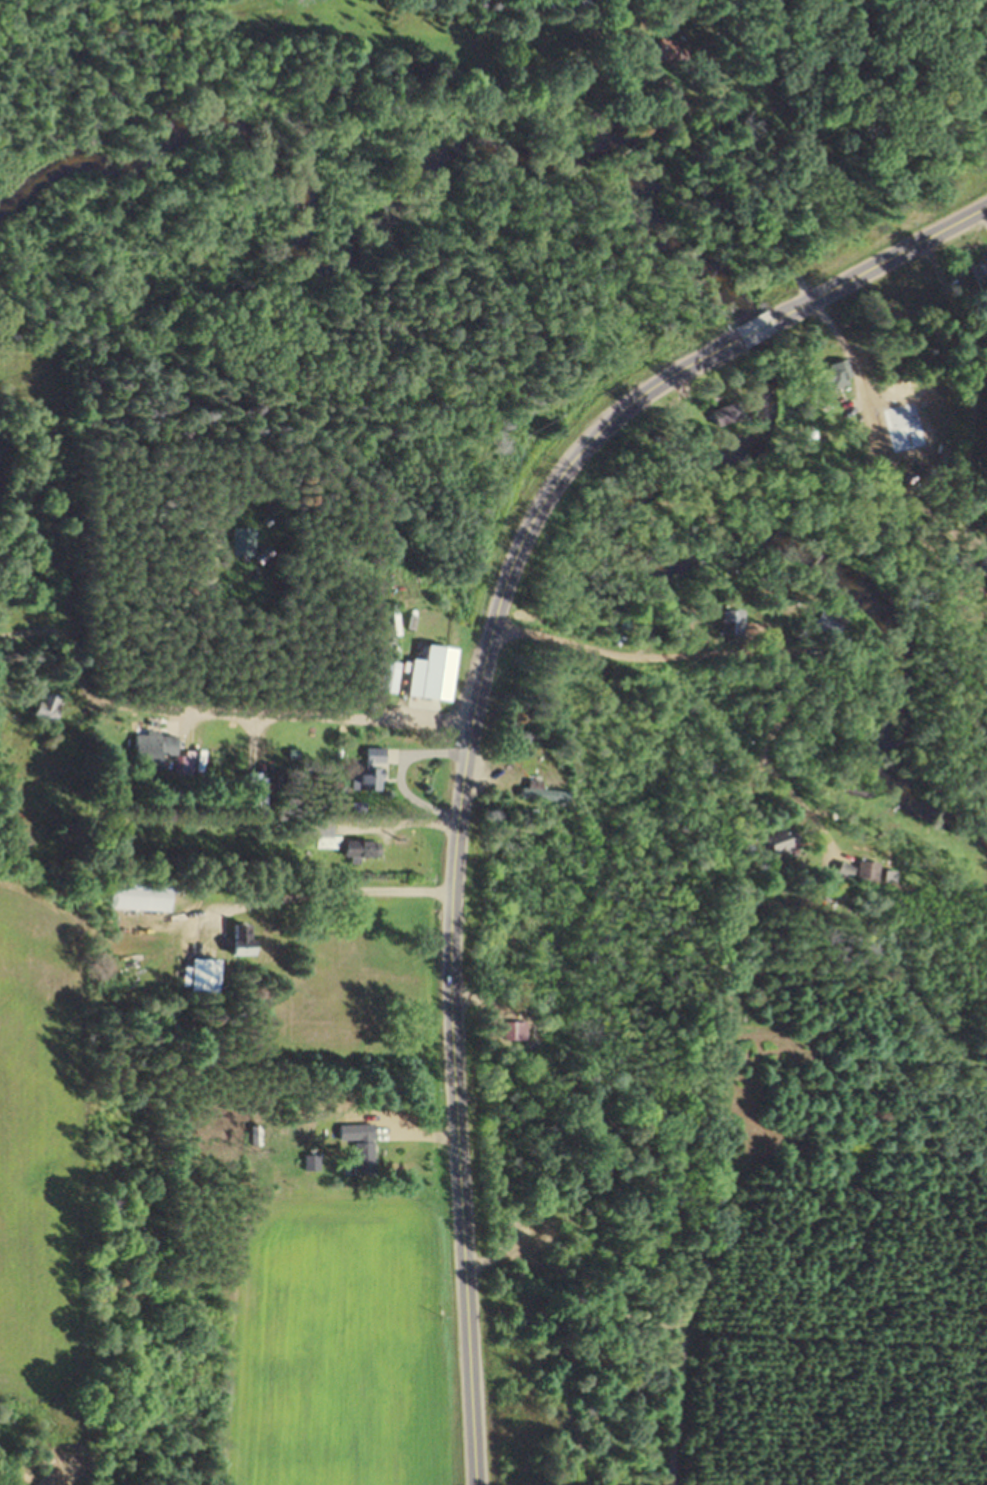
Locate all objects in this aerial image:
building: (662, 50)
river: (381, 144)
road: (878, 263)
road: (753, 330)
building: (839, 375)
river: (789, 386)
building: (237, 541)
building: (826, 621)
building: (731, 622)
road: (727, 650)
building: (443, 673)
building: (49, 708)
road: (322, 717)
building: (199, 741)
building: (153, 750)
building: (373, 767)
road: (797, 799)
road: (402, 827)
building: (781, 837)
building: (363, 849)
road: (453, 857)
road: (323, 894)
building: (142, 896)
building: (833, 899)
building: (244, 940)
building: (207, 976)
building: (508, 1033)
building: (255, 1136)
building: (362, 1150)
building: (313, 1163)

